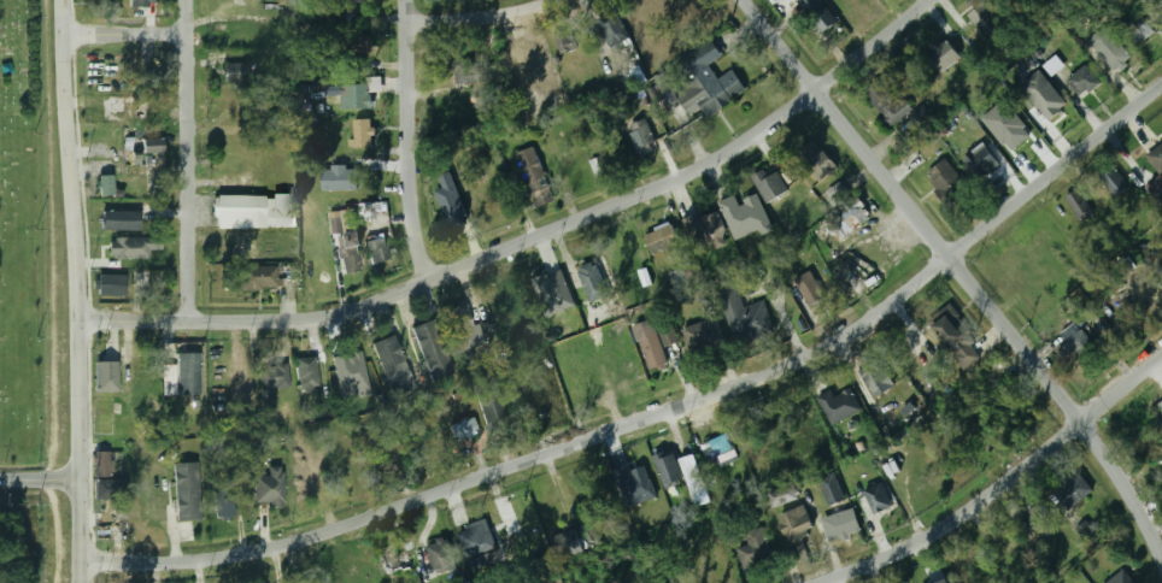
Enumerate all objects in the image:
building: (142, 4)
building: (354, 6)
building: (818, 13)
road: (482, 17)
building: (985, 23)
building: (608, 29)
building: (1137, 30)
road: (125, 35)
building: (565, 42)
road: (875, 48)
building: (1109, 49)
building: (943, 54)
building: (1054, 65)
building: (1028, 69)
building: (463, 70)
building: (234, 73)
building: (1082, 81)
building: (703, 83)
building: (1044, 95)
building: (354, 96)
building: (885, 102)
building: (922, 116)
building: (1007, 125)
building: (363, 134)
building: (641, 137)
road: (411, 141)
building: (152, 146)
building: (1156, 159)
road: (187, 160)
building: (980, 160)
building: (816, 161)
building: (605, 164)
building: (286, 175)
building: (534, 176)
building: (340, 177)
building: (945, 181)
building: (1113, 182)
building: (105, 185)
building: (134, 185)
building: (770, 185)
building: (1155, 190)
building: (838, 193)
building: (1079, 206)
building: (256, 211)
building: (451, 211)
building: (743, 216)
building: (849, 217)
building: (121, 220)
building: (342, 222)
building: (705, 231)
road: (76, 236)
park: (19, 240)
building: (664, 241)
building: (133, 247)
building: (230, 252)
building: (350, 252)
building: (104, 253)
building: (378, 253)
building: (865, 258)
road: (460, 267)
building: (1160, 270)
road: (957, 273)
building: (259, 277)
building: (680, 278)
building: (592, 282)
building: (110, 285)
building: (806, 285)
building: (553, 293)
building: (745, 317)
building: (460, 326)
building: (698, 336)
building: (957, 338)
building: (650, 346)
building: (1084, 348)
building: (432, 349)
building: (392, 365)
building: (104, 371)
building: (306, 372)
building: (188, 373)
building: (875, 378)
building: (588, 381)
building: (270, 384)
building: (539, 400)
building: (489, 405)
building: (839, 406)
road: (662, 414)
building: (102, 416)
building: (463, 429)
building: (718, 450)
building: (668, 469)
building: (104, 475)
building: (342, 475)
road: (37, 476)
building: (696, 481)
building: (634, 484)
road: (1005, 485)
building: (269, 487)
building: (831, 489)
building: (1073, 490)
building: (186, 491)
building: (782, 495)
building: (876, 496)
building: (223, 505)
building: (127, 512)
building: (1035, 516)
building: (796, 525)
building: (840, 525)
road: (77, 528)
building: (1086, 529)
building: (480, 535)
building: (565, 543)
building: (755, 547)
building: (439, 555)
building: (391, 561)
building: (1120, 578)
building: (947, 581)

